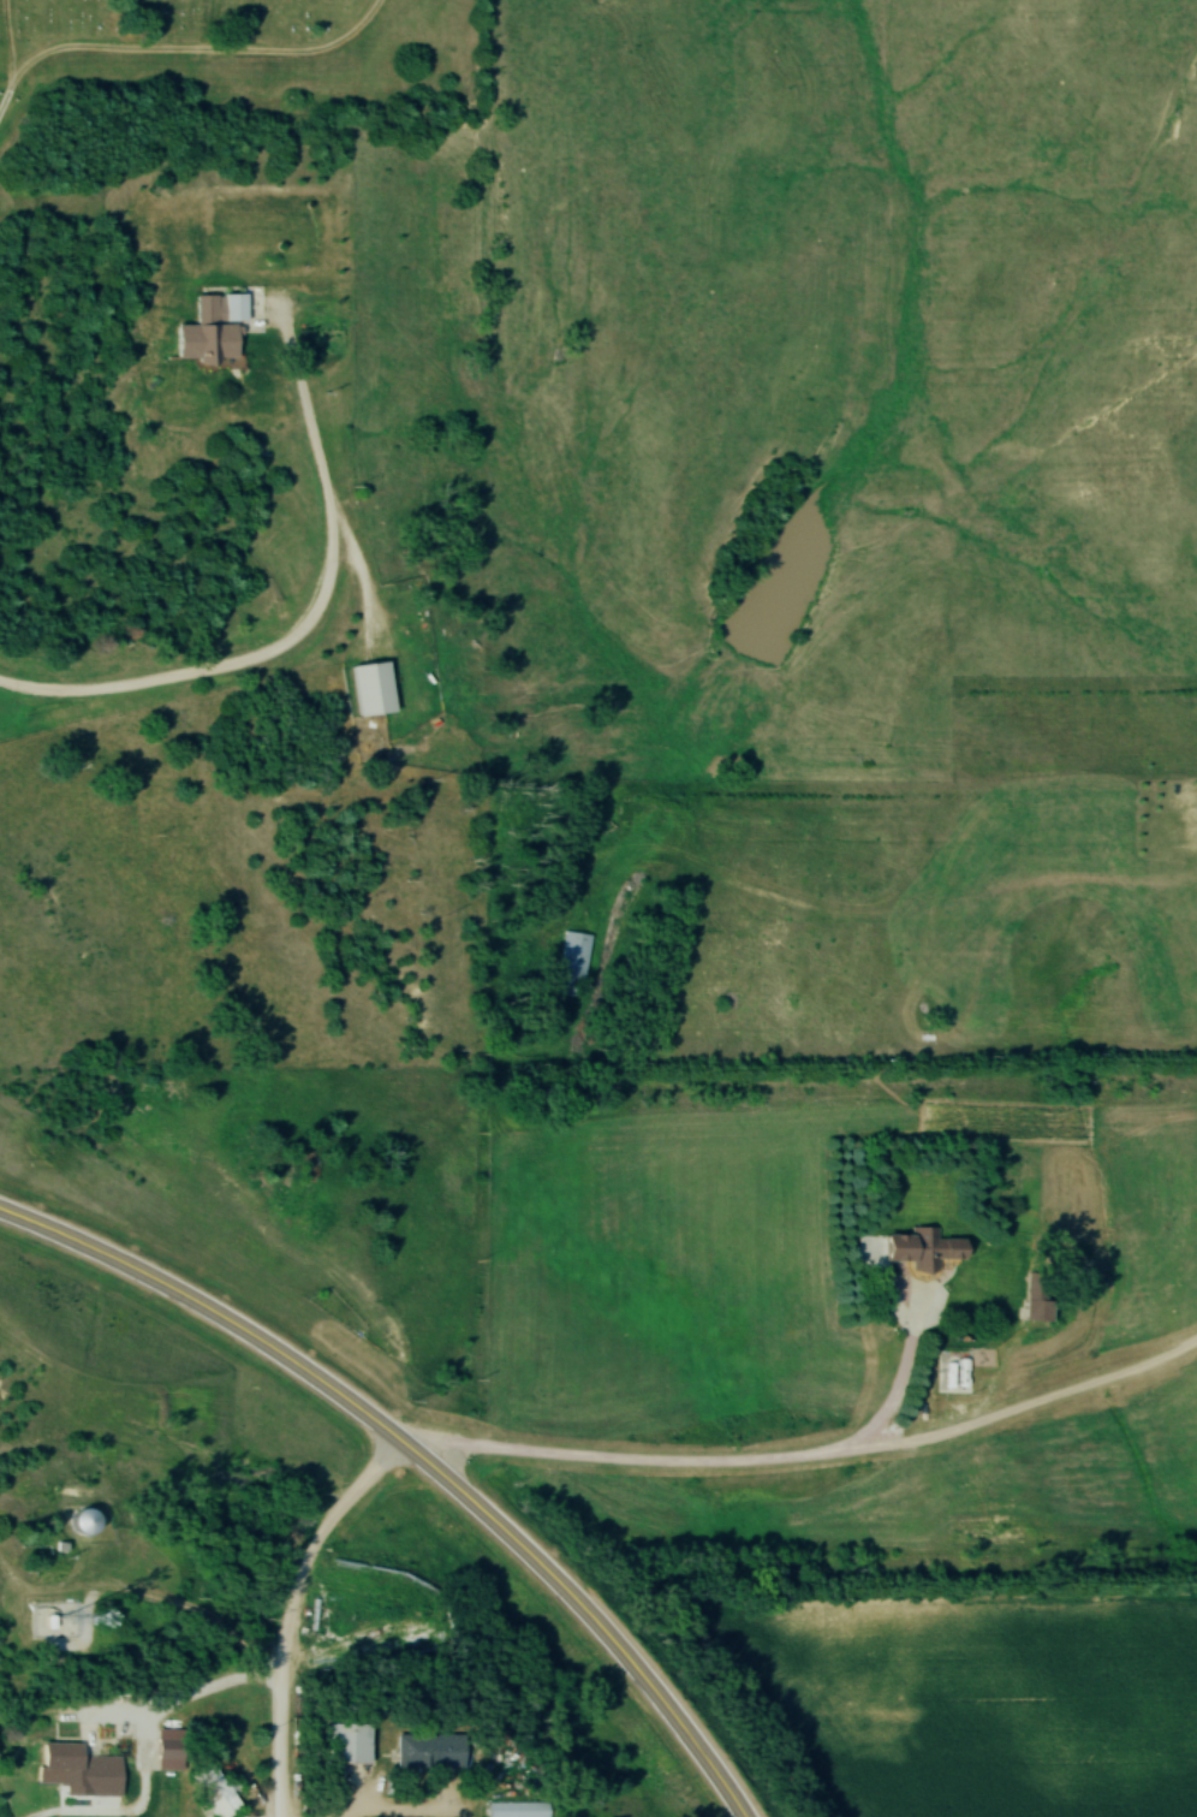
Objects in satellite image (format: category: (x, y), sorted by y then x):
road: (8, 43)
road: (197, 49)
park: (238, 55)
road: (6, 97)
building: (210, 329)
road: (306, 614)
building: (369, 689)
building: (572, 963)
building: (925, 1251)
building: (1040, 1296)
road: (208, 1312)
road: (1020, 1402)
road: (17, 1455)
road: (723, 1462)
building: (14, 1486)
road: (314, 1546)
road: (136, 1601)
road: (589, 1614)
road: (174, 1709)
building: (350, 1744)
road: (279, 1747)
building: (161, 1751)
building: (429, 1752)
building: (61, 1756)
building: (221, 1801)
road: (392, 1805)
building: (516, 1810)

